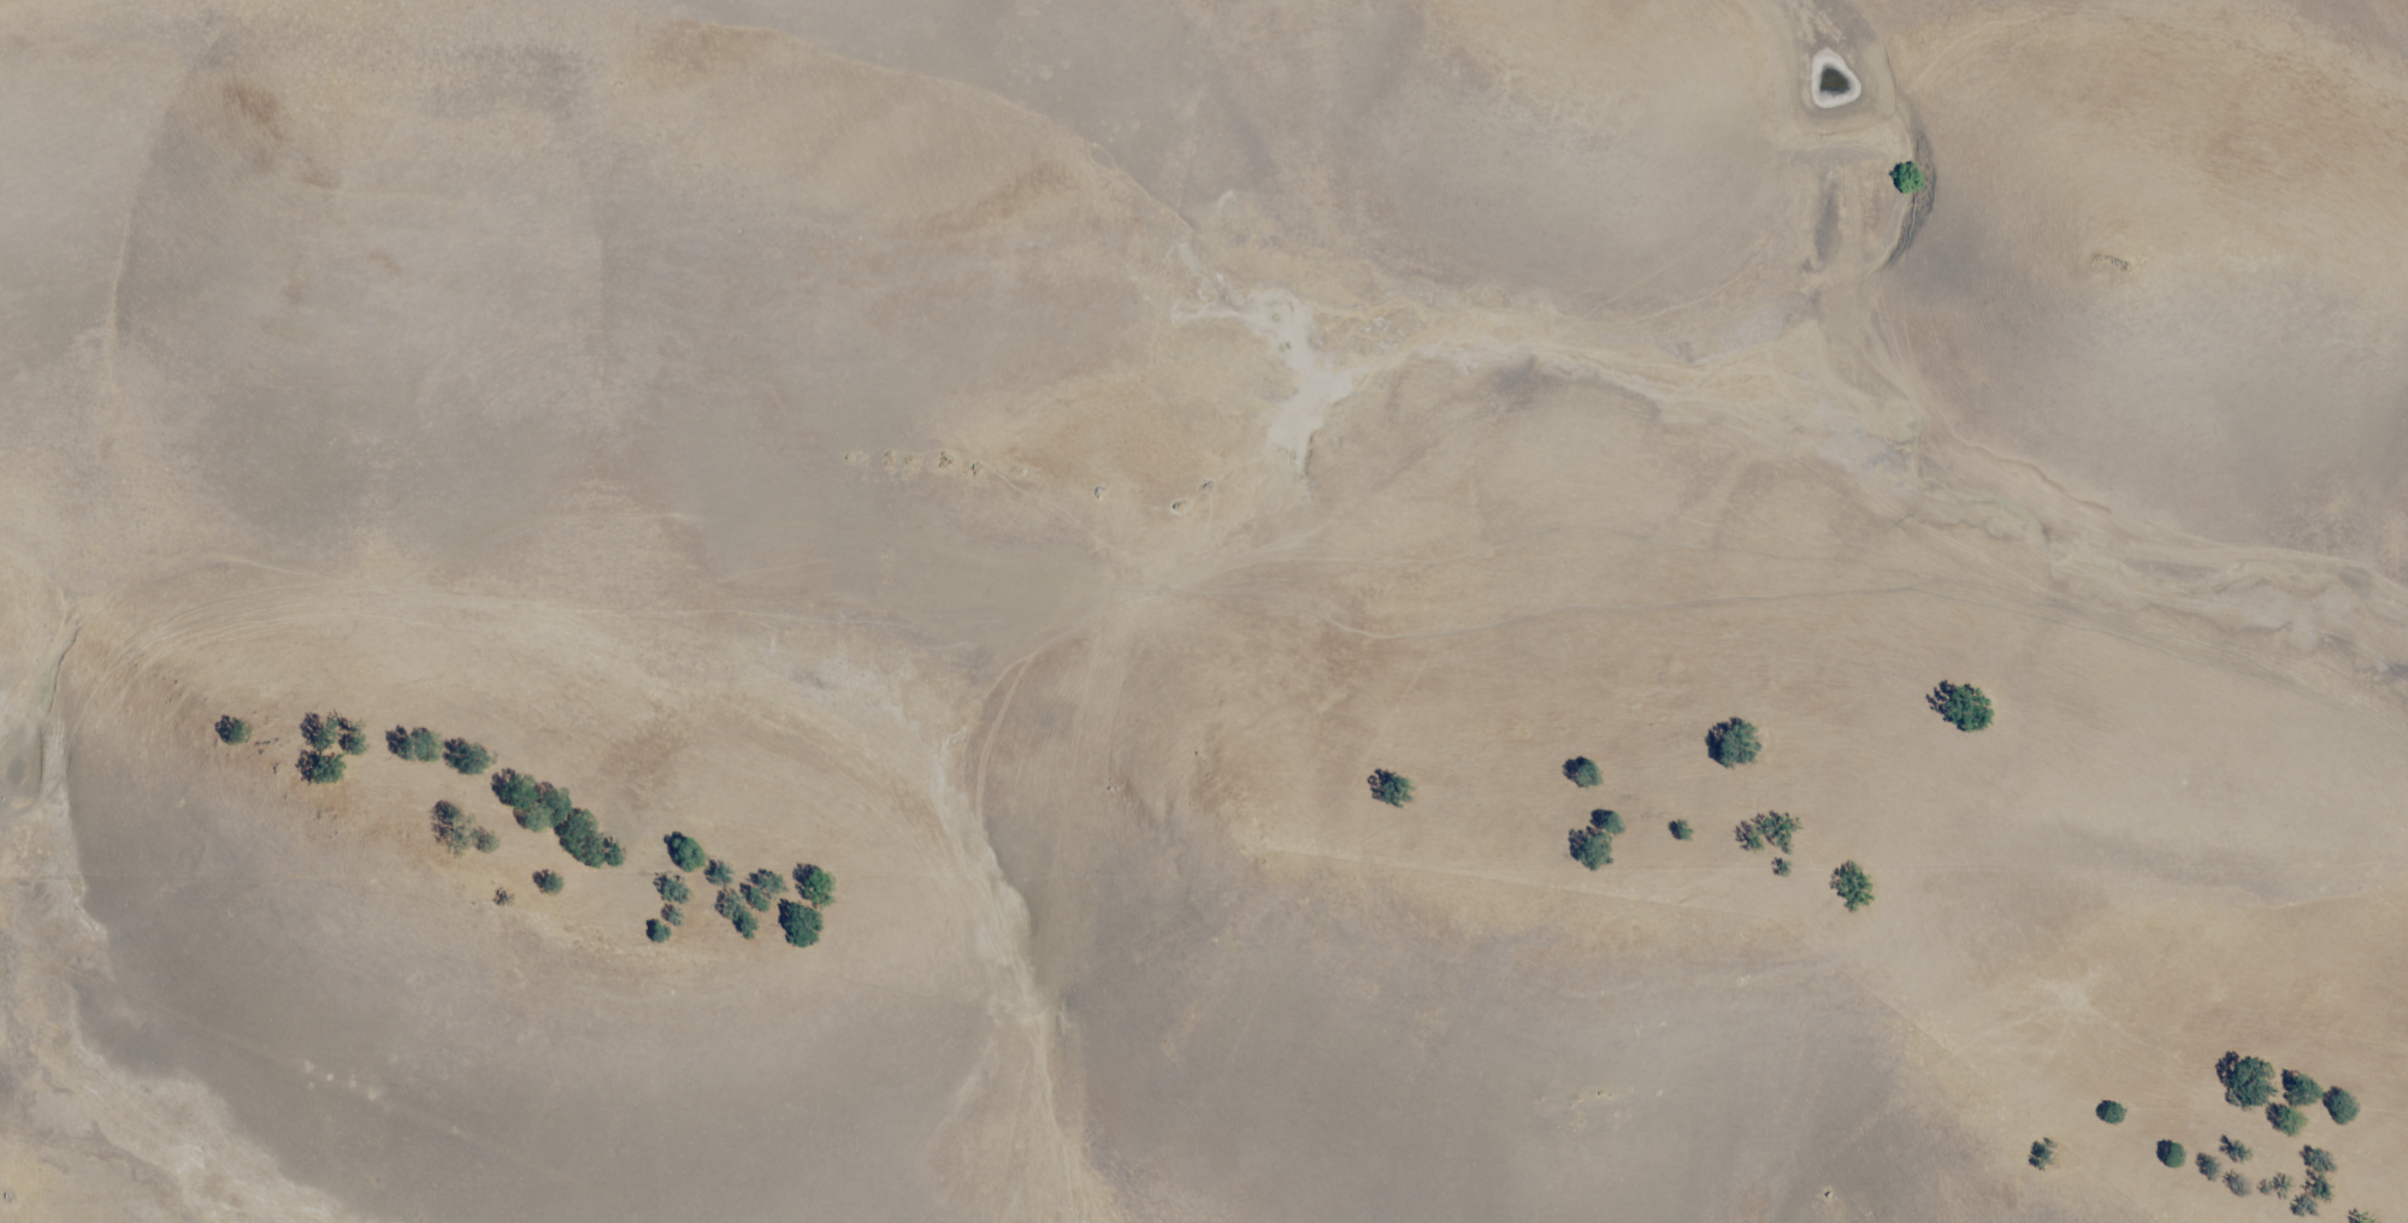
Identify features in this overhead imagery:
park: (31, 1)
road: (155, 1146)

